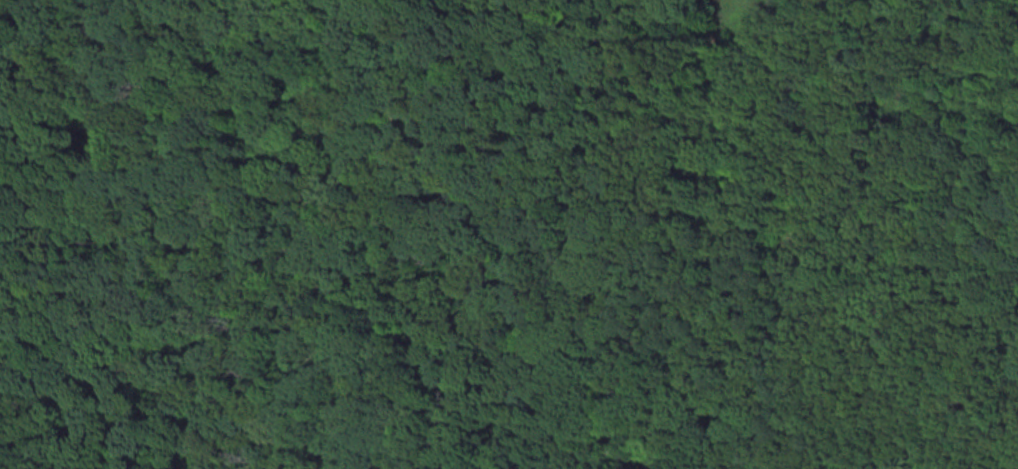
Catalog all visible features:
park: (509, 234)

